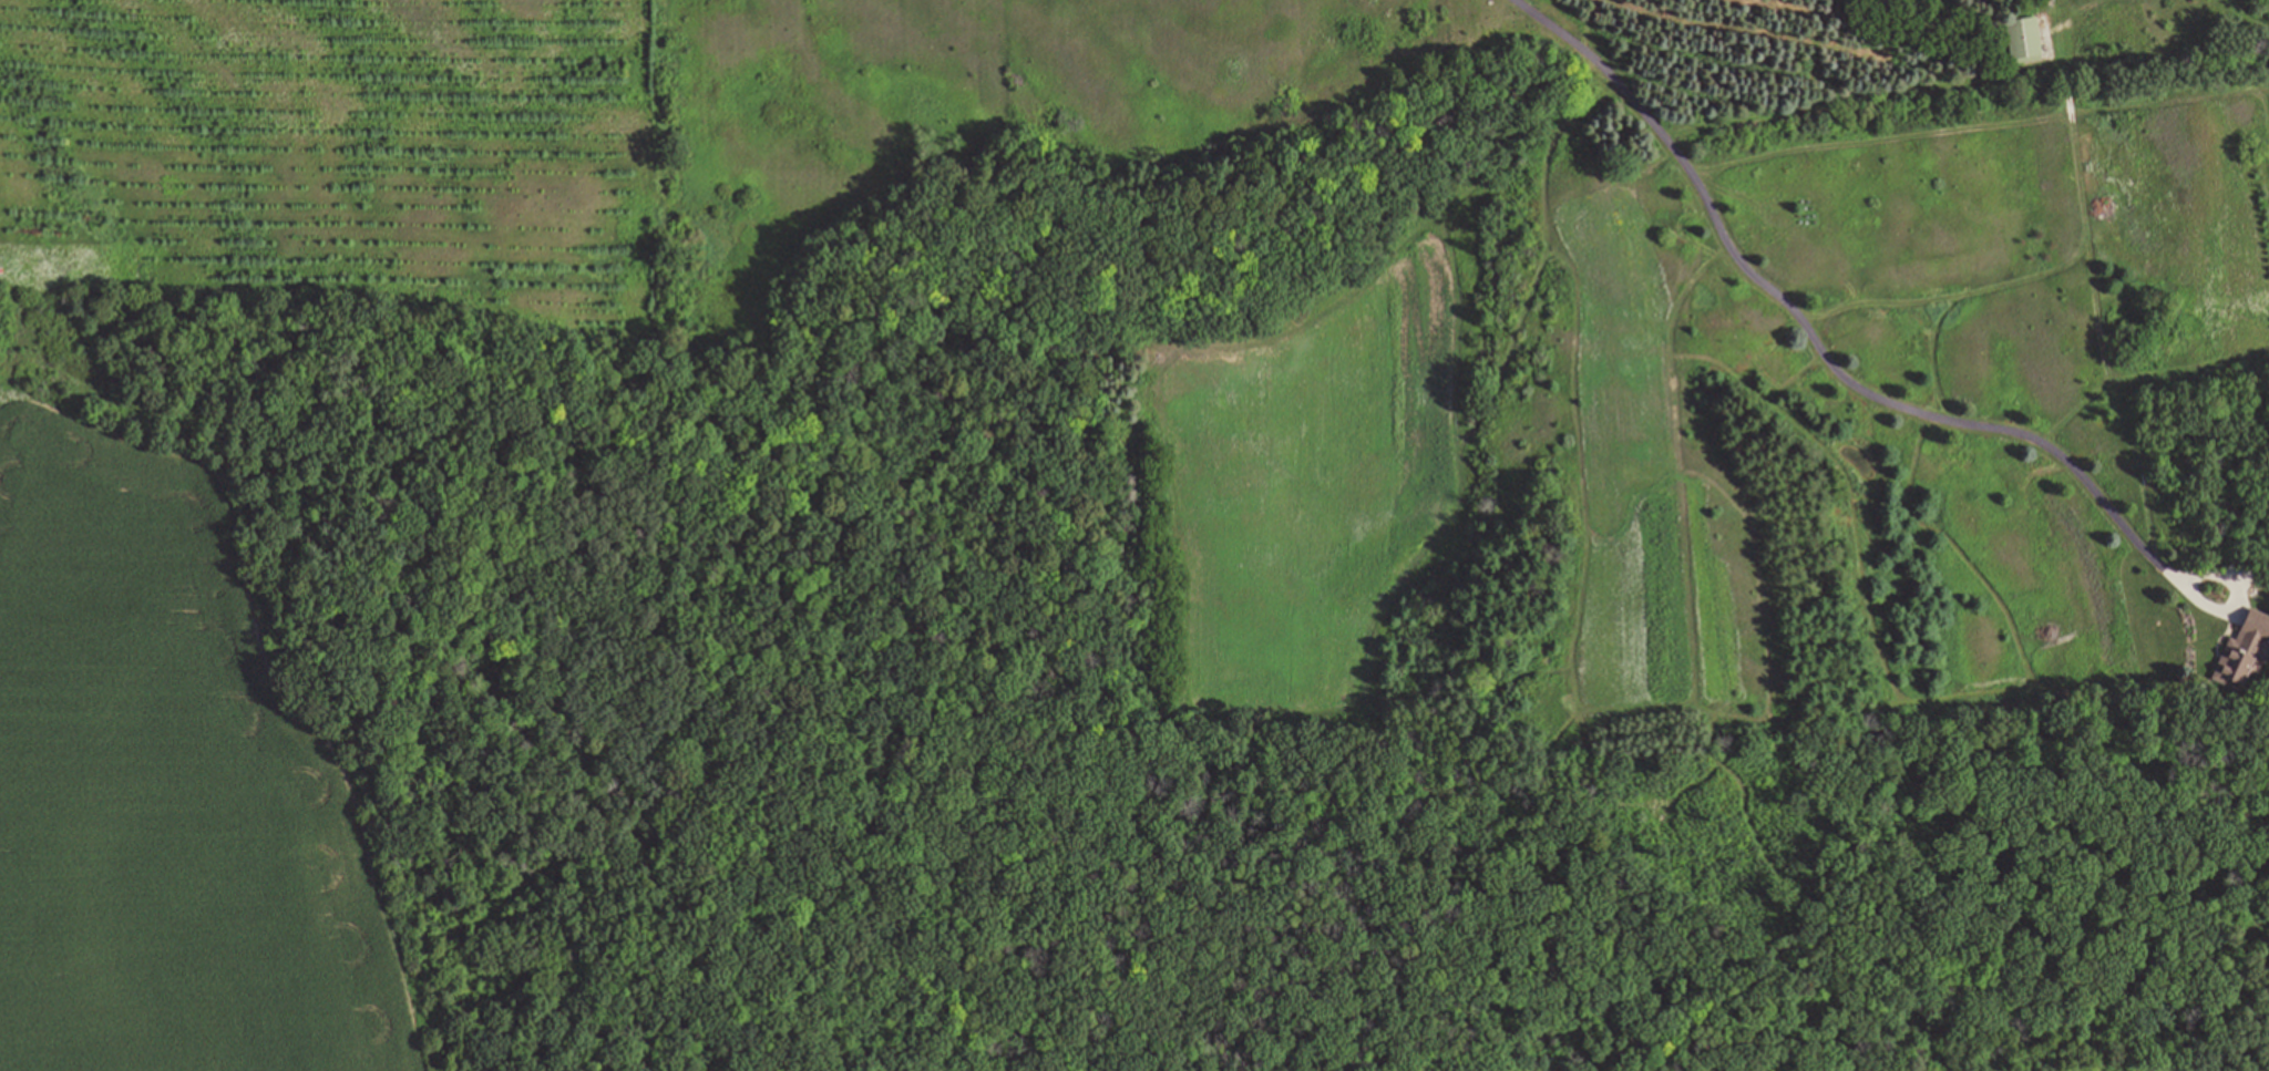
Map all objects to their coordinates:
building: (2026, 42)
building: (2245, 653)

